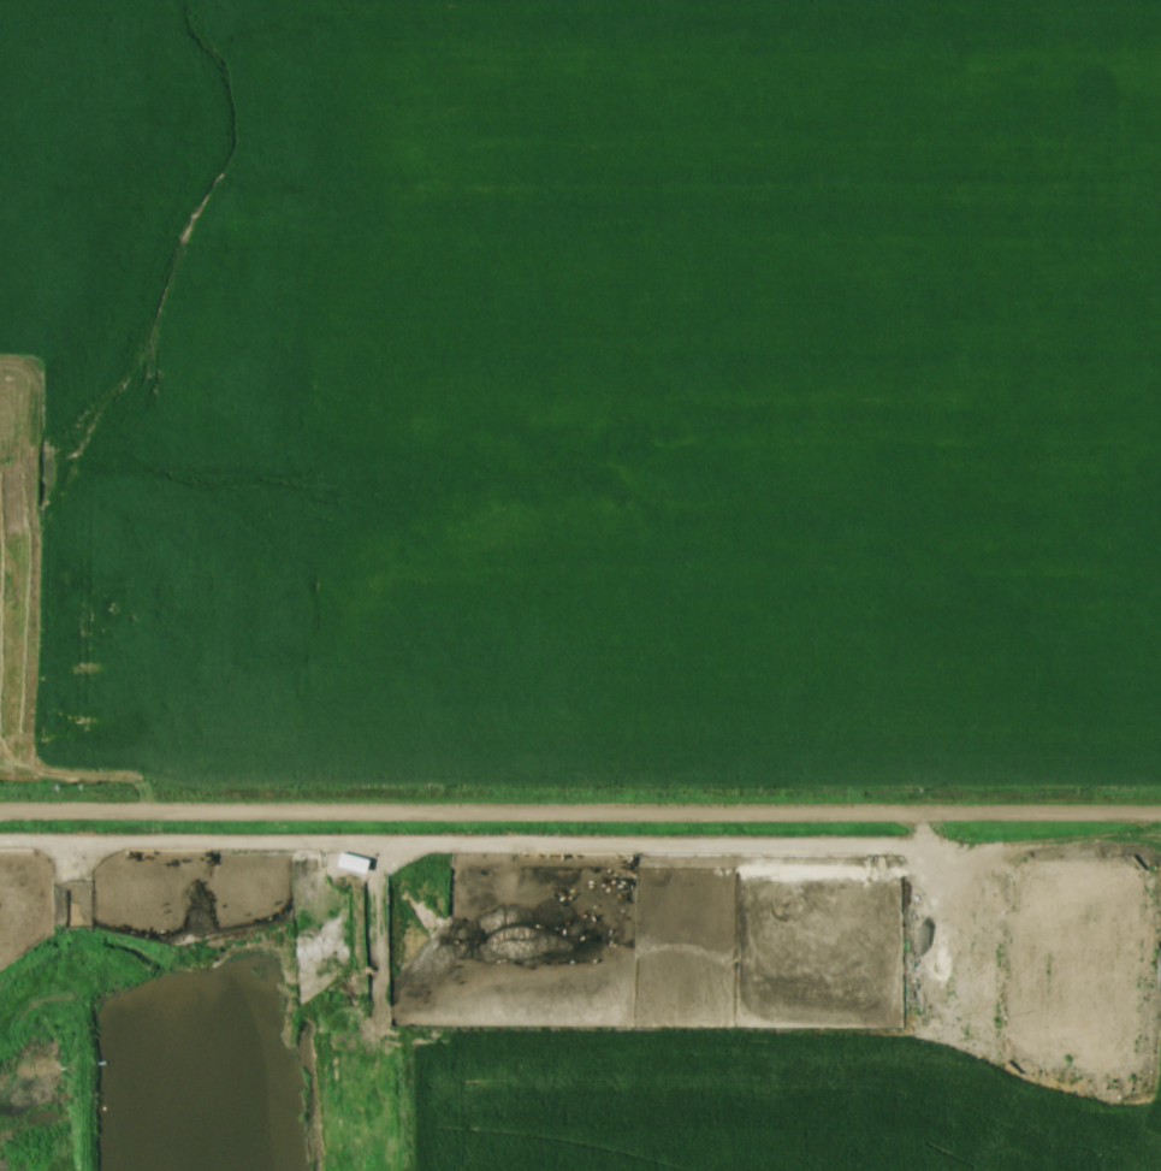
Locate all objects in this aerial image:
building: (251, 660)
road: (580, 808)

